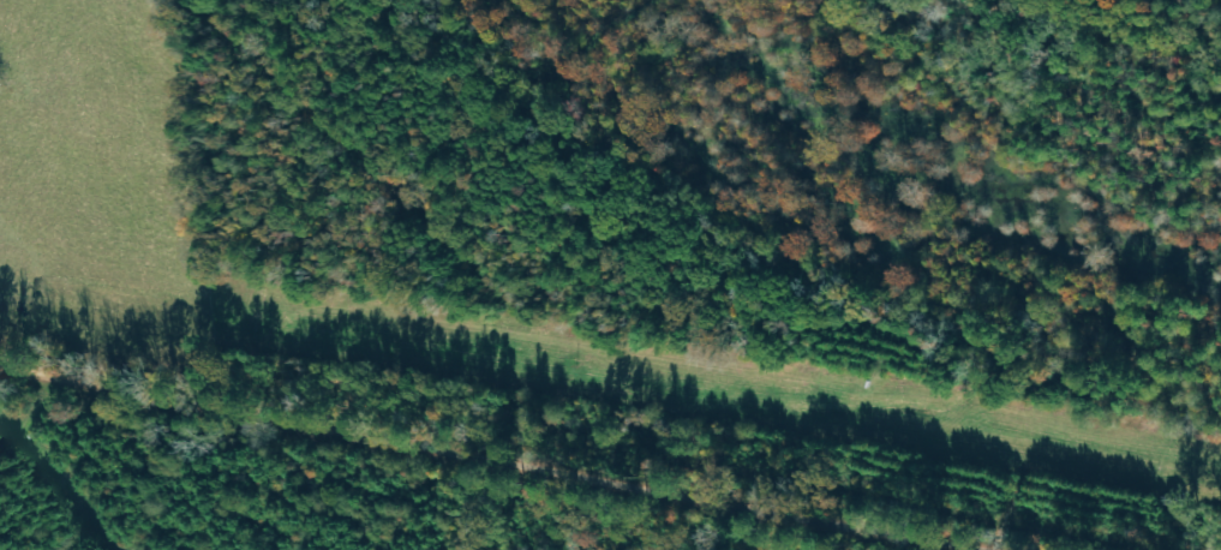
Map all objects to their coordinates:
road: (461, 456)

